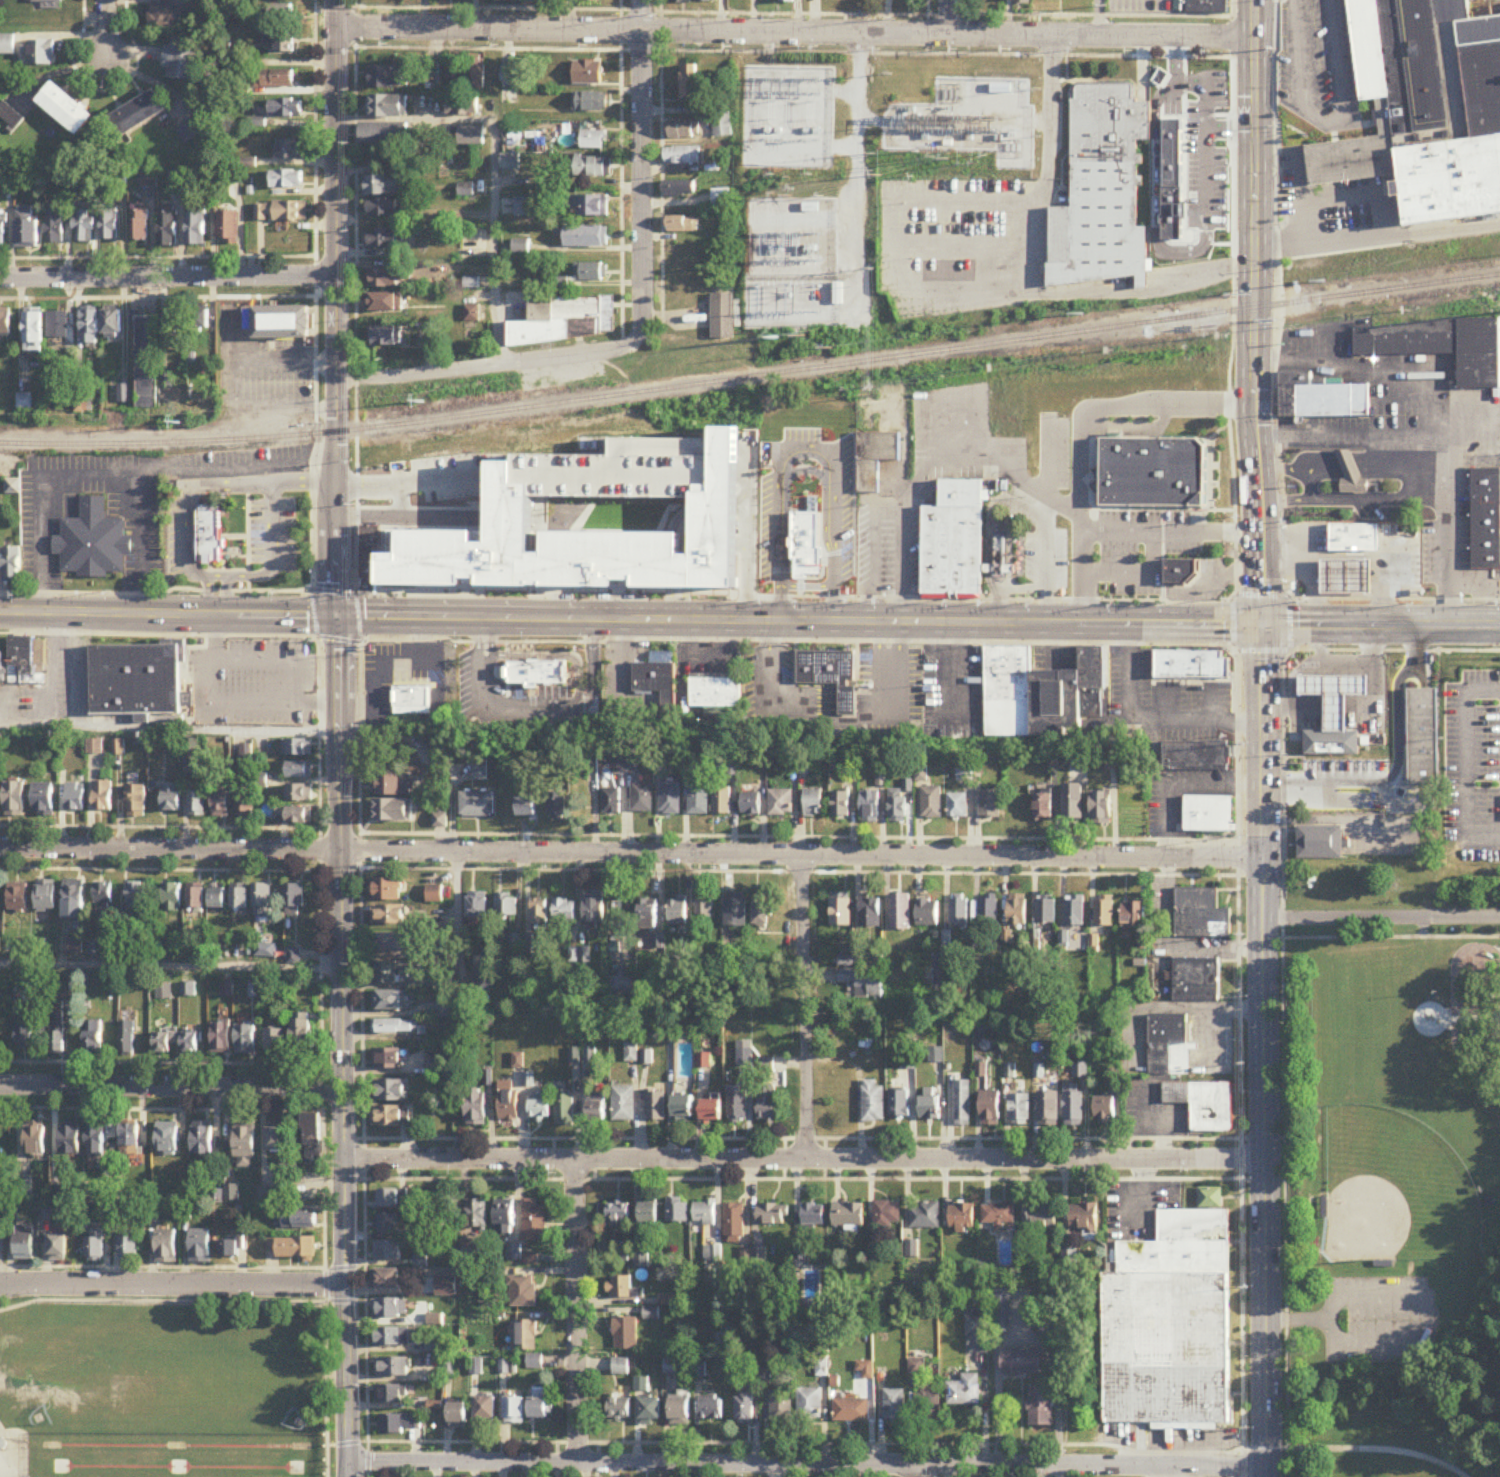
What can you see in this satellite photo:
building: (585, 0)
building: (706, 1)
building: (787, 1)
building: (683, 2)
building: (1022, 2)
building: (47, 3)
building: (1208, 7)
building: (278, 14)
road: (795, 17)
road: (947, 17)
building: (164, 18)
road: (1097, 18)
road: (107, 31)
road: (795, 35)
building: (278, 43)
building: (6, 46)
building: (40, 54)
building: (182, 60)
building: (588, 74)
building: (473, 76)
building: (386, 79)
building: (275, 82)
building: (690, 83)
building: (510, 86)
building: (589, 102)
building: (1426, 104)
building: (386, 107)
building: (286, 109)
building: (65, 110)
building: (461, 110)
building: (137, 116)
building: (10, 117)
road: (1323, 121)
building: (722, 126)
building: (193, 131)
building: (683, 131)
building: (383, 134)
building: (471, 137)
road: (861, 140)
building: (592, 141)
road: (1049, 144)
building: (290, 151)
building: (682, 157)
road: (494, 163)
building: (510, 163)
building: (1177, 166)
building: (593, 168)
road: (642, 171)
building: (286, 180)
building: (380, 186)
building: (679, 190)
power substation: (889, 191)
building: (1103, 192)
building: (720, 198)
building: (589, 207)
building: (522, 208)
building: (383, 209)
building: (811, 209)
building: (281, 213)
road: (1379, 222)
building: (109, 226)
building: (140, 226)
building: (682, 226)
building: (83, 227)
building: (54, 228)
building: (228, 229)
building: (2, 230)
building: (167, 230)
building: (196, 230)
road: (1437, 230)
building: (26, 231)
building: (585, 237)
building: (383, 240)
building: (520, 248)
road: (587, 248)
building: (591, 273)
road: (169, 278)
building: (383, 279)
road: (1234, 301)
building: (385, 303)
road: (1253, 313)
building: (722, 317)
building: (174, 321)
building: (199, 322)
building: (567, 322)
building: (5, 323)
building: (111, 324)
building: (281, 324)
building: (57, 326)
building: (89, 328)
building: (33, 331)
building: (386, 337)
building: (1440, 347)
building: (145, 359)
road: (486, 365)
railway: (751, 378)
road: (618, 396)
building: (1322, 398)
building: (24, 401)
road: (1426, 401)
road: (1081, 432)
road: (805, 444)
road: (1410, 450)
building: (873, 456)
road: (934, 457)
road: (1286, 467)
road: (1327, 467)
road: (1349, 467)
building: (1155, 475)
road: (90, 477)
building: (1352, 477)
road: (305, 481)
road: (405, 484)
road: (1405, 499)
road: (1288, 500)
road: (891, 502)
road: (1448, 503)
road: (384, 519)
building: (1486, 520)
road: (188, 522)
building: (606, 531)
road: (272, 532)
road: (1172, 532)
parking lot: (272, 535)
parking lot: (180, 536)
building: (1354, 537)
building: (210, 538)
building: (92, 543)
building: (954, 545)
road: (1313, 547)
road: (1346, 555)
building: (806, 557)
road: (873, 562)
road: (1032, 563)
building: (10, 565)
building: (392, 570)
building: (1180, 573)
building: (1348, 576)
road: (332, 590)
road: (155, 593)
road: (794, 595)
road: (206, 596)
road: (228, 596)
road: (1367, 600)
road: (313, 612)
road: (357, 616)
traffic signals: (337, 618)
road: (500, 619)
road: (1131, 625)
traffic signals: (1263, 626)
road: (1336, 626)
road: (1455, 626)
road: (158, 634)
road: (480, 637)
road: (492, 637)
road: (338, 639)
road: (797, 639)
road: (1317, 645)
road: (767, 652)
road: (1367, 652)
road: (563, 655)
road: (486, 656)
building: (21, 660)
road: (1337, 666)
road: (592, 667)
building: (1192, 667)
building: (2, 668)
road: (48, 669)
road: (81, 669)
building: (655, 675)
building: (830, 675)
building: (539, 681)
building: (137, 682)
parking lot: (251, 682)
parking lot: (405, 691)
road: (478, 692)
building: (717, 696)
building: (1044, 696)
building: (1336, 696)
building: (409, 697)
road: (1372, 698)
parking lot: (499, 700)
road: (229, 702)
road: (1291, 705)
road: (541, 714)
road: (1153, 716)
road: (860, 718)
road: (42, 723)
road: (212, 727)
road: (319, 731)
road: (1283, 736)
road: (359, 737)
road: (339, 738)
building: (1423, 738)
building: (1332, 742)
building: (95, 747)
building: (297, 749)
building: (439, 751)
building: (1196, 757)
road: (1391, 758)
road: (1465, 763)
building: (299, 772)
road: (1181, 785)
building: (390, 787)
building: (299, 794)
building: (103, 797)
building: (75, 798)
building: (171, 798)
building: (644, 799)
building: (672, 799)
building: (43, 800)
building: (15, 801)
building: (197, 801)
building: (700, 801)
building: (136, 802)
building: (723, 802)
building: (612, 803)
building: (815, 803)
building: (932, 803)
building: (221, 804)
building: (752, 804)
building: (782, 804)
building: (1074, 804)
building: (842, 805)
building: (245, 806)
building: (478, 806)
building: (990, 806)
building: (559, 807)
building: (871, 807)
building: (899, 807)
building: (958, 807)
building: (1044, 808)
building: (529, 810)
building: (1102, 810)
building: (394, 813)
building: (1209, 816)
building: (297, 817)
building: (1320, 844)
road: (319, 848)
road: (359, 849)
road: (631, 855)
building: (386, 890)
building: (103, 894)
building: (74, 895)
building: (46, 896)
building: (18, 897)
building: (137, 897)
building: (173, 897)
building: (196, 898)
building: (218, 898)
building: (240, 898)
building: (263, 901)
building: (294, 901)
building: (506, 907)
building: (478, 908)
building: (704, 908)
building: (594, 909)
building: (841, 910)
building: (564, 911)
building: (678, 911)
building: (989, 911)
building: (1017, 911)
building: (763, 912)
building: (900, 912)
building: (1046, 912)
building: (1075, 912)
building: (437, 913)
building: (539, 913)
building: (737, 913)
building: (871, 913)
building: (927, 913)
building: (1105, 913)
building: (648, 914)
building: (959, 914)
building: (388, 915)
building: (1133, 916)
building: (1201, 916)
road: (1382, 921)
road: (1391, 939)
building: (391, 943)
building: (528, 943)
building: (846, 962)
road: (171, 967)
building: (391, 973)
building: (482, 979)
building: (865, 980)
building: (1197, 981)
building: (389, 1001)
road: (805, 1008)
building: (396, 1026)
building: (62, 1031)
building: (24, 1032)
building: (302, 1034)
road: (1485, 1036)
building: (92, 1037)
road: (1239, 1038)
building: (127, 1039)
building: (222, 1039)
building: (247, 1039)
building: (1165, 1041)
building: (162, 1044)
building: (191, 1044)
building: (277, 1045)
road: (1265, 1051)
building: (631, 1054)
building: (744, 1054)
building: (387, 1059)
building: (438, 1066)
building: (390, 1090)
road: (173, 1092)
building: (873, 1103)
building: (962, 1103)
building: (624, 1104)
building: (1204, 1104)
building: (509, 1105)
building: (766, 1105)
building: (899, 1105)
building: (1074, 1105)
building: (656, 1106)
building: (737, 1106)
building: (476, 1108)
building: (929, 1108)
building: (990, 1108)
building: (1049, 1108)
building: (540, 1109)
building: (683, 1109)
building: (1020, 1109)
building: (564, 1110)
building: (1105, 1110)
building: (596, 1111)
building: (712, 1111)
building: (388, 1116)
building: (167, 1139)
building: (276, 1139)
building: (35, 1140)
building: (203, 1140)
building: (70, 1141)
building: (96, 1141)
building: (313, 1142)
building: (129, 1143)
building: (245, 1146)
road: (806, 1161)
building: (25, 1187)
park: (1390, 1189)
park: (1390, 1190)
building: (391, 1198)
building: (1210, 1198)
building: (478, 1213)
building: (649, 1213)
building: (678, 1213)
building: (704, 1213)
building: (618, 1214)
building: (887, 1214)
building: (772, 1215)
building: (848, 1215)
building: (998, 1215)
building: (812, 1216)
building: (924, 1216)
building: (504, 1217)
building: (961, 1217)
building: (1042, 1217)
building: (1084, 1217)
building: (297, 1221)
building: (535, 1221)
building: (389, 1224)
building: (734, 1224)
building: (2, 1243)
building: (24, 1243)
building: (95, 1246)
building: (200, 1246)
building: (166, 1247)
building: (58, 1248)
building: (295, 1248)
building: (231, 1249)
building: (390, 1250)
building: (514, 1253)
building: (530, 1260)
building: (387, 1279)
road: (24, 1282)
road: (174, 1283)
building: (622, 1288)
building: (523, 1291)
building: (387, 1309)
road: (579, 1312)
building: (1002, 1312)
building: (651, 1314)
road: (1420, 1319)
road: (1297, 1320)
parking lot: (1379, 1321)
building: (1170, 1327)
building: (625, 1334)
building: (526, 1335)
building: (977, 1335)
building: (392, 1337)
road: (1024, 1339)
building: (1022, 1363)
building: (621, 1367)
building: (393, 1368)
park: (175, 1380)
building: (964, 1392)
building: (390, 1395)
building: (540, 1404)
building: (810, 1406)
building: (895, 1406)
building: (928, 1406)
building: (620, 1407)
building: (781, 1407)
building: (1041, 1407)
building: (486, 1408)
building: (712, 1410)
building: (745, 1410)
building: (515, 1411)
building: (651, 1411)
building: (851, 1411)
building: (680, 1412)
building: (458, 1416)
building: (401, 1424)
road: (1354, 1451)
road: (808, 1464)
road: (914, 1471)

